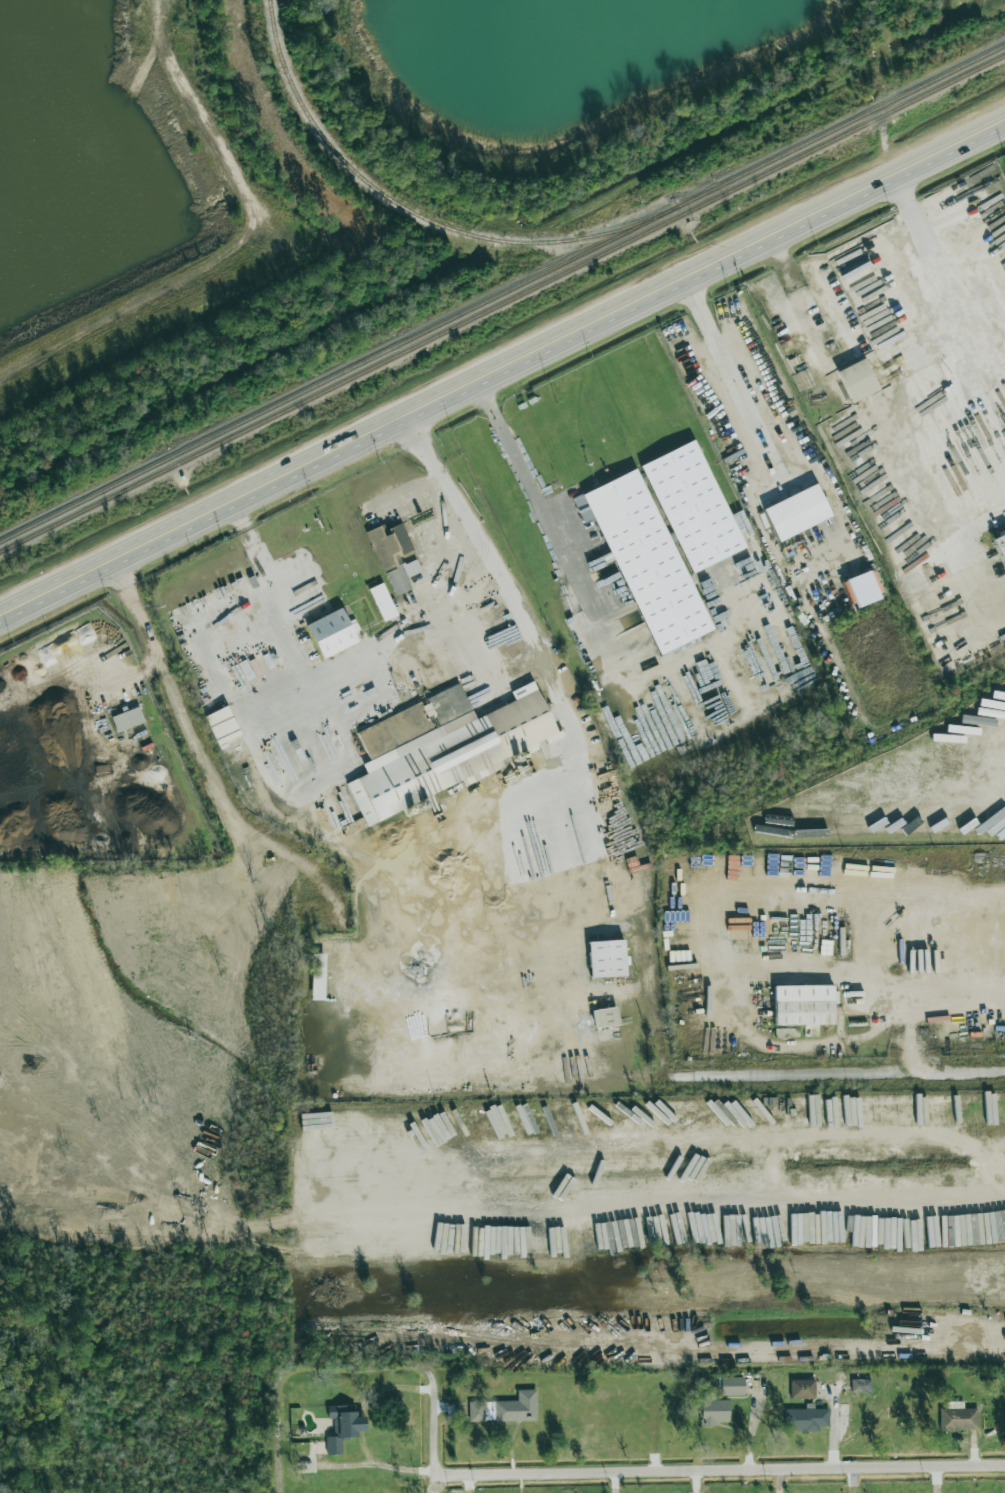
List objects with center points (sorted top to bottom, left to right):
road: (898, 171)
railway: (417, 213)
railway: (502, 293)
railway: (502, 302)
road: (501, 362)
road: (728, 372)
building: (857, 380)
road: (852, 398)
road: (417, 496)
building: (692, 506)
building: (797, 512)
road: (550, 523)
road: (974, 529)
building: (1000, 544)
building: (393, 554)
building: (645, 559)
road: (592, 579)
building: (383, 602)
building: (331, 633)
road: (320, 679)
road: (145, 684)
road: (559, 685)
building: (128, 719)
road: (203, 741)
building: (441, 745)
building: (607, 958)
building: (318, 976)
road: (943, 996)
building: (804, 1004)
building: (605, 1017)
road: (661, 1029)
road: (839, 1087)
road: (771, 1141)
road: (697, 1212)
building: (732, 1385)
building: (861, 1385)
building: (802, 1388)
building: (517, 1407)
building: (713, 1408)
building: (477, 1411)
building: (958, 1416)
building: (807, 1418)
building: (343, 1427)
road: (439, 1439)
road: (379, 1464)
road: (722, 1469)

